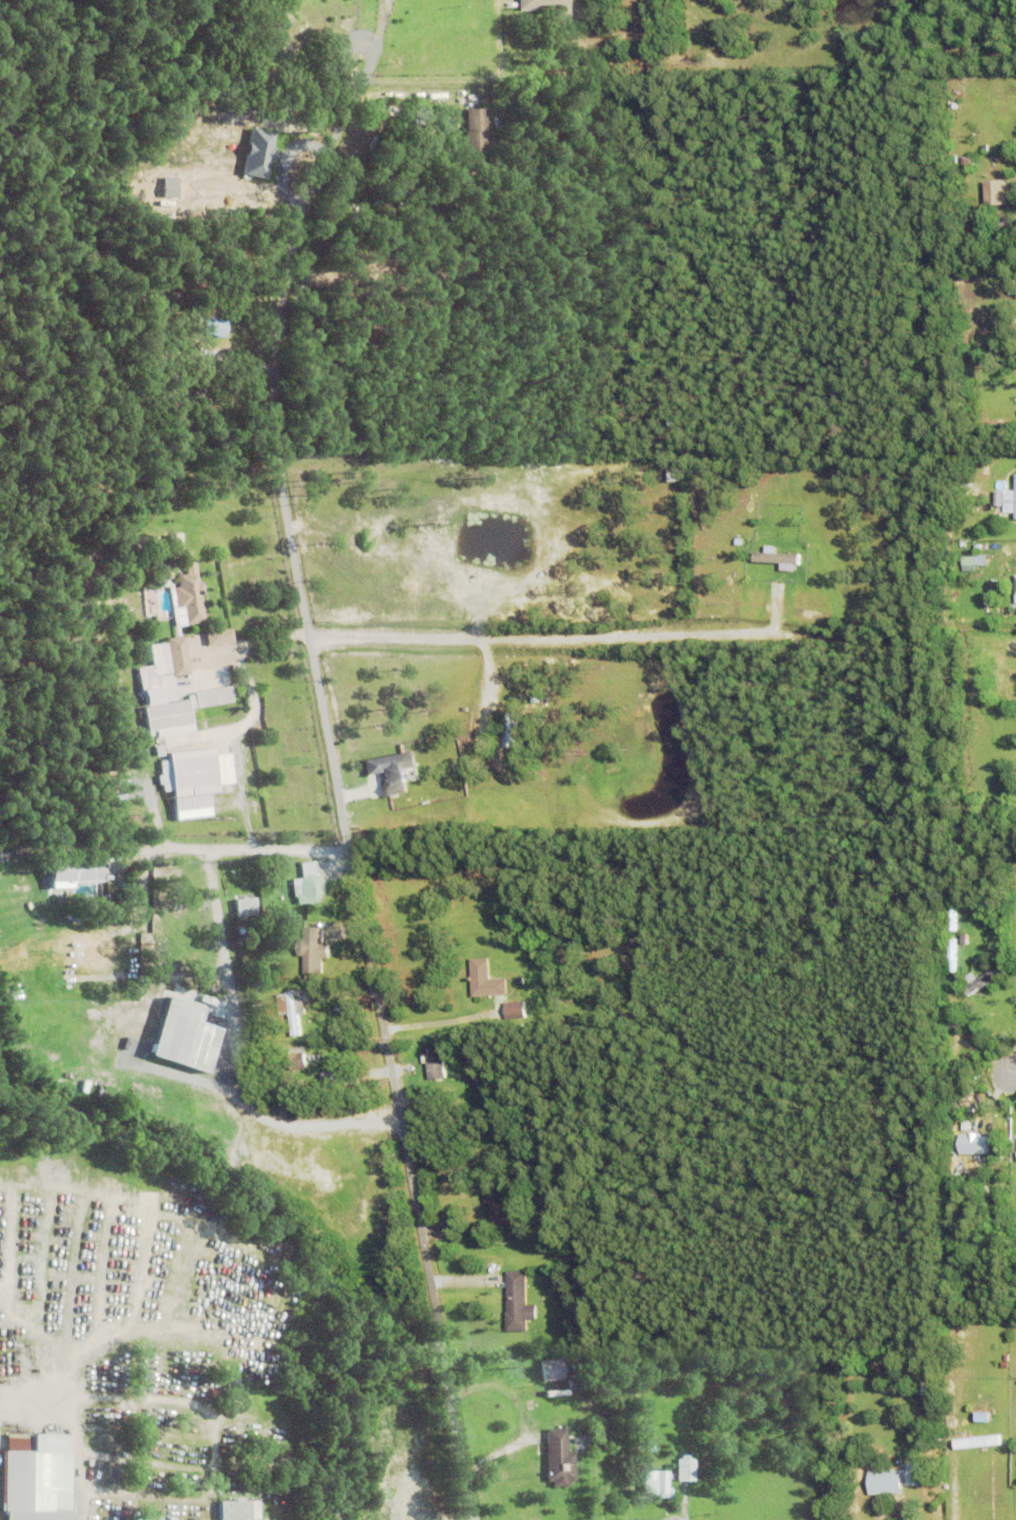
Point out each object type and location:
building: (578, 4)
building: (547, 5)
building: (588, 98)
building: (953, 106)
building: (539, 118)
building: (477, 138)
building: (441, 162)
building: (993, 192)
building: (1004, 220)
building: (1004, 243)
building: (959, 315)
building: (211, 326)
building: (1005, 339)
building: (1013, 415)
building: (674, 475)
building: (966, 484)
building: (998, 498)
building: (1010, 500)
building: (171, 541)
building: (738, 542)
building: (777, 558)
building: (974, 559)
building: (1012, 563)
building: (162, 570)
building: (1014, 585)
building: (188, 600)
building: (150, 632)
road: (555, 636)
building: (218, 637)
building: (986, 639)
building: (990, 653)
building: (169, 657)
building: (999, 661)
building: (1006, 683)
building: (212, 697)
building: (160, 704)
building: (506, 732)
building: (391, 771)
road: (336, 776)
building: (190, 779)
road: (231, 847)
building: (78, 850)
building: (74, 872)
building: (308, 885)
building: (245, 909)
building: (639, 938)
building: (962, 941)
building: (84, 949)
building: (312, 951)
building: (952, 973)
building: (982, 980)
building: (484, 981)
building: (211, 1000)
building: (292, 1008)
building: (514, 1010)
building: (116, 1021)
building: (182, 1038)
building: (296, 1058)
building: (47, 1063)
building: (263, 1064)
building: (434, 1064)
road: (1004, 1073)
building: (338, 1080)
building: (475, 1084)
building: (976, 1087)
building: (966, 1092)
building: (953, 1093)
building: (995, 1127)
building: (952, 1128)
building: (948, 1135)
building: (959, 1141)
building: (1013, 1146)
building: (980, 1164)
building: (497, 1207)
building: (552, 1276)
building: (989, 1291)
building: (517, 1303)
building: (552, 1371)
building: (1004, 1371)
building: (587, 1379)
building: (574, 1385)
building: (922, 1389)
building: (982, 1419)
building: (974, 1443)
building: (634, 1449)
building: (652, 1450)
building: (560, 1460)
building: (686, 1470)
building: (914, 1475)
building: (38, 1478)
building: (230, 1483)
building: (884, 1484)
building: (656, 1486)
building: (240, 1511)

